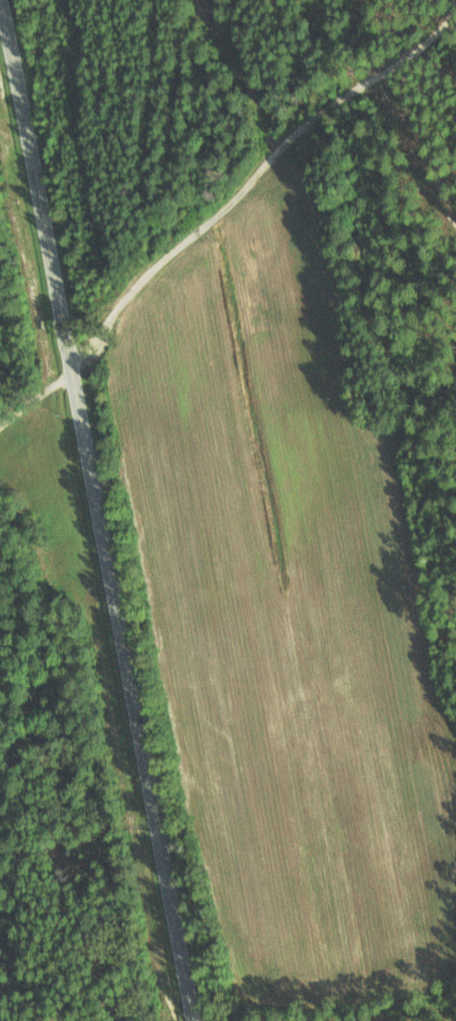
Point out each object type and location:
road: (100, 509)

